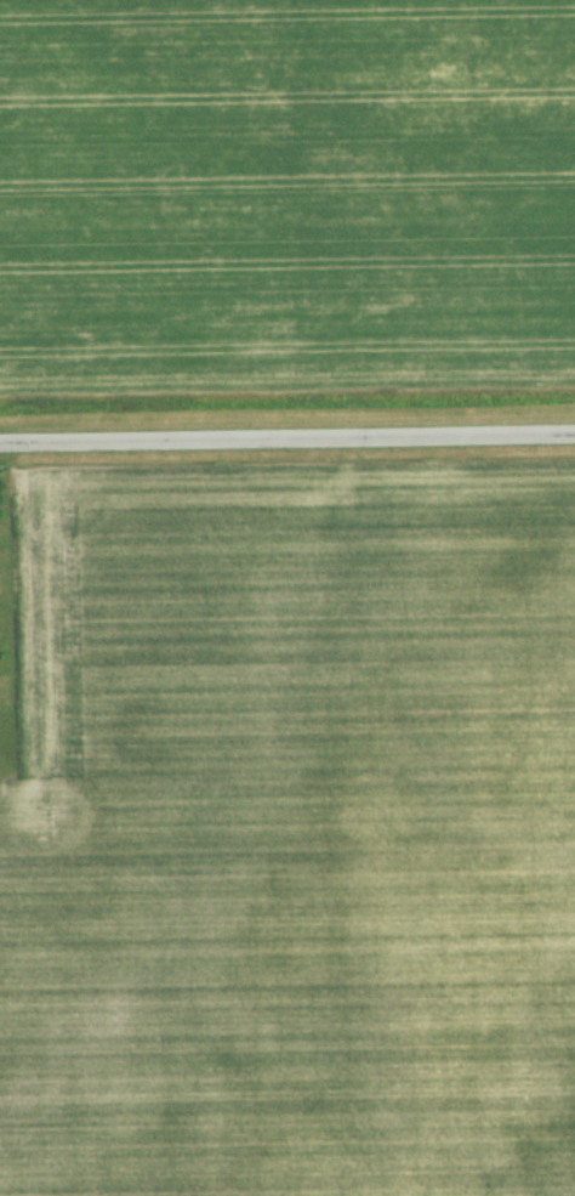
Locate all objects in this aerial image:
crop: (285, 199)
road: (287, 440)
crop: (291, 839)

